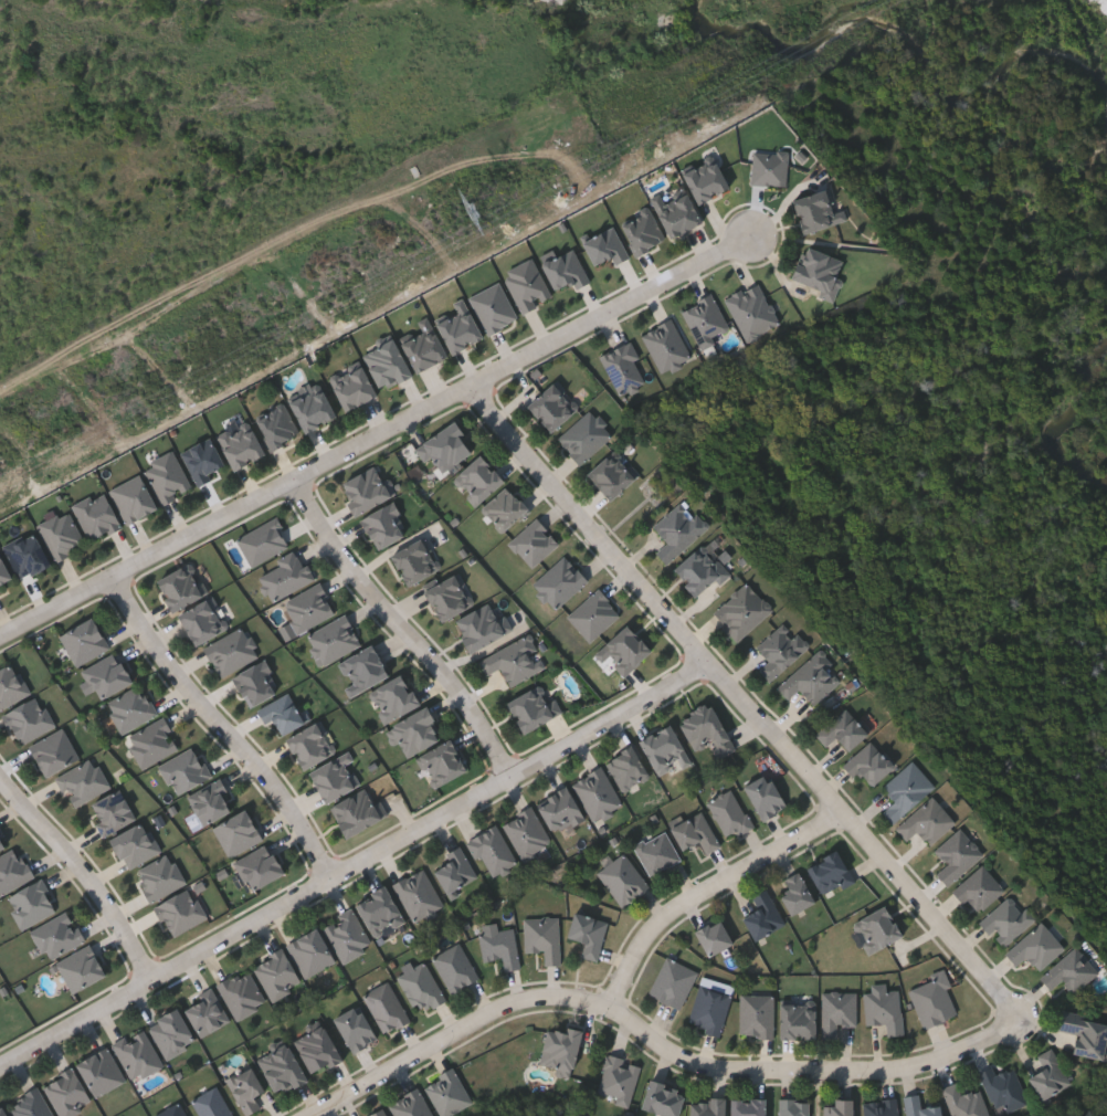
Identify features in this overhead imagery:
building: (771, 167)
park: (984, 172)
building: (706, 181)
building: (677, 211)
building: (819, 211)
power tower: (470, 218)
building: (643, 230)
building: (607, 246)
building: (820, 271)
building: (497, 307)
building: (753, 310)
building: (460, 327)
building: (424, 348)
building: (387, 362)
building: (354, 386)
building: (551, 406)
building: (313, 408)
building: (277, 424)
road: (375, 436)
building: (587, 436)
building: (241, 443)
building: (446, 445)
building: (203, 459)
building: (612, 473)
building: (168, 476)
building: (478, 478)
building: (369, 487)
building: (134, 497)
building: (506, 508)
building: (98, 515)
building: (679, 529)
building: (63, 534)
building: (264, 540)
building: (28, 555)
building: (414, 560)
building: (703, 568)
building: (3, 570)
building: (287, 575)
building: (182, 586)
building: (0, 596)
building: (449, 596)
building: (744, 610)
building: (203, 620)
building: (482, 625)
road: (404, 628)
building: (338, 638)
building: (86, 641)
building: (625, 649)
building: (781, 649)
building: (233, 651)
building: (513, 660)
building: (365, 668)
building: (108, 676)
building: (813, 678)
building: (257, 683)
building: (12, 685)
building: (394, 697)
road: (742, 704)
building: (534, 707)
building: (133, 709)
building: (30, 719)
road: (225, 727)
building: (707, 728)
building: (844, 729)
building: (418, 730)
building: (155, 743)
building: (312, 744)
building: (665, 749)
building: (55, 751)
building: (443, 762)
building: (869, 762)
building: (629, 768)
building: (187, 770)
building: (336, 777)
building: (84, 781)
building: (907, 789)
building: (598, 792)
building: (766, 796)
building: (212, 801)
building: (561, 809)
building: (359, 810)
building: (113, 811)
building: (732, 813)
building: (928, 821)
building: (697, 831)
building: (240, 832)
building: (528, 832)
building: (1, 843)
building: (136, 844)
building: (494, 850)
building: (660, 852)
building: (958, 855)
building: (261, 866)
road: (354, 867)
building: (456, 870)
building: (13, 871)
road: (82, 873)
building: (832, 873)
building: (161, 877)
building: (625, 880)
building: (980, 889)
road: (704, 891)
building: (797, 892)
building: (420, 894)
building: (33, 904)
building: (381, 910)
building: (182, 912)
building: (765, 915)
building: (1009, 919)
building: (879, 928)
building: (590, 933)
building: (61, 935)
building: (349, 935)
building: (716, 936)
building: (546, 937)
building: (502, 947)
building: (1037, 947)
building: (313, 952)
building: (83, 968)
building: (457, 968)
building: (1072, 971)
building: (278, 975)
building: (675, 982)
building: (423, 987)
building: (243, 993)
building: (935, 1001)
building: (388, 1008)
building: (711, 1010)
building: (887, 1010)
building: (208, 1012)
building: (840, 1012)
building: (759, 1015)
building: (800, 1019)
building: (356, 1029)
building: (172, 1032)
building: (1086, 1033)
road: (653, 1041)
building: (318, 1047)
building: (561, 1047)
building: (139, 1053)
building: (283, 1068)
building: (102, 1071)
building: (1051, 1075)
building: (620, 1080)
building: (1005, 1088)
building: (247, 1089)
building: (449, 1092)
building: (68, 1093)
building: (664, 1098)
building: (966, 1102)
building: (32, 1104)
building: (213, 1104)
building: (412, 1105)
building: (707, 1106)
building: (749, 1106)
building: (795, 1107)
building: (840, 1107)
building: (883, 1107)
building: (920, 1107)
building: (3, 1110)
building: (175, 1110)
building: (380, 1113)

